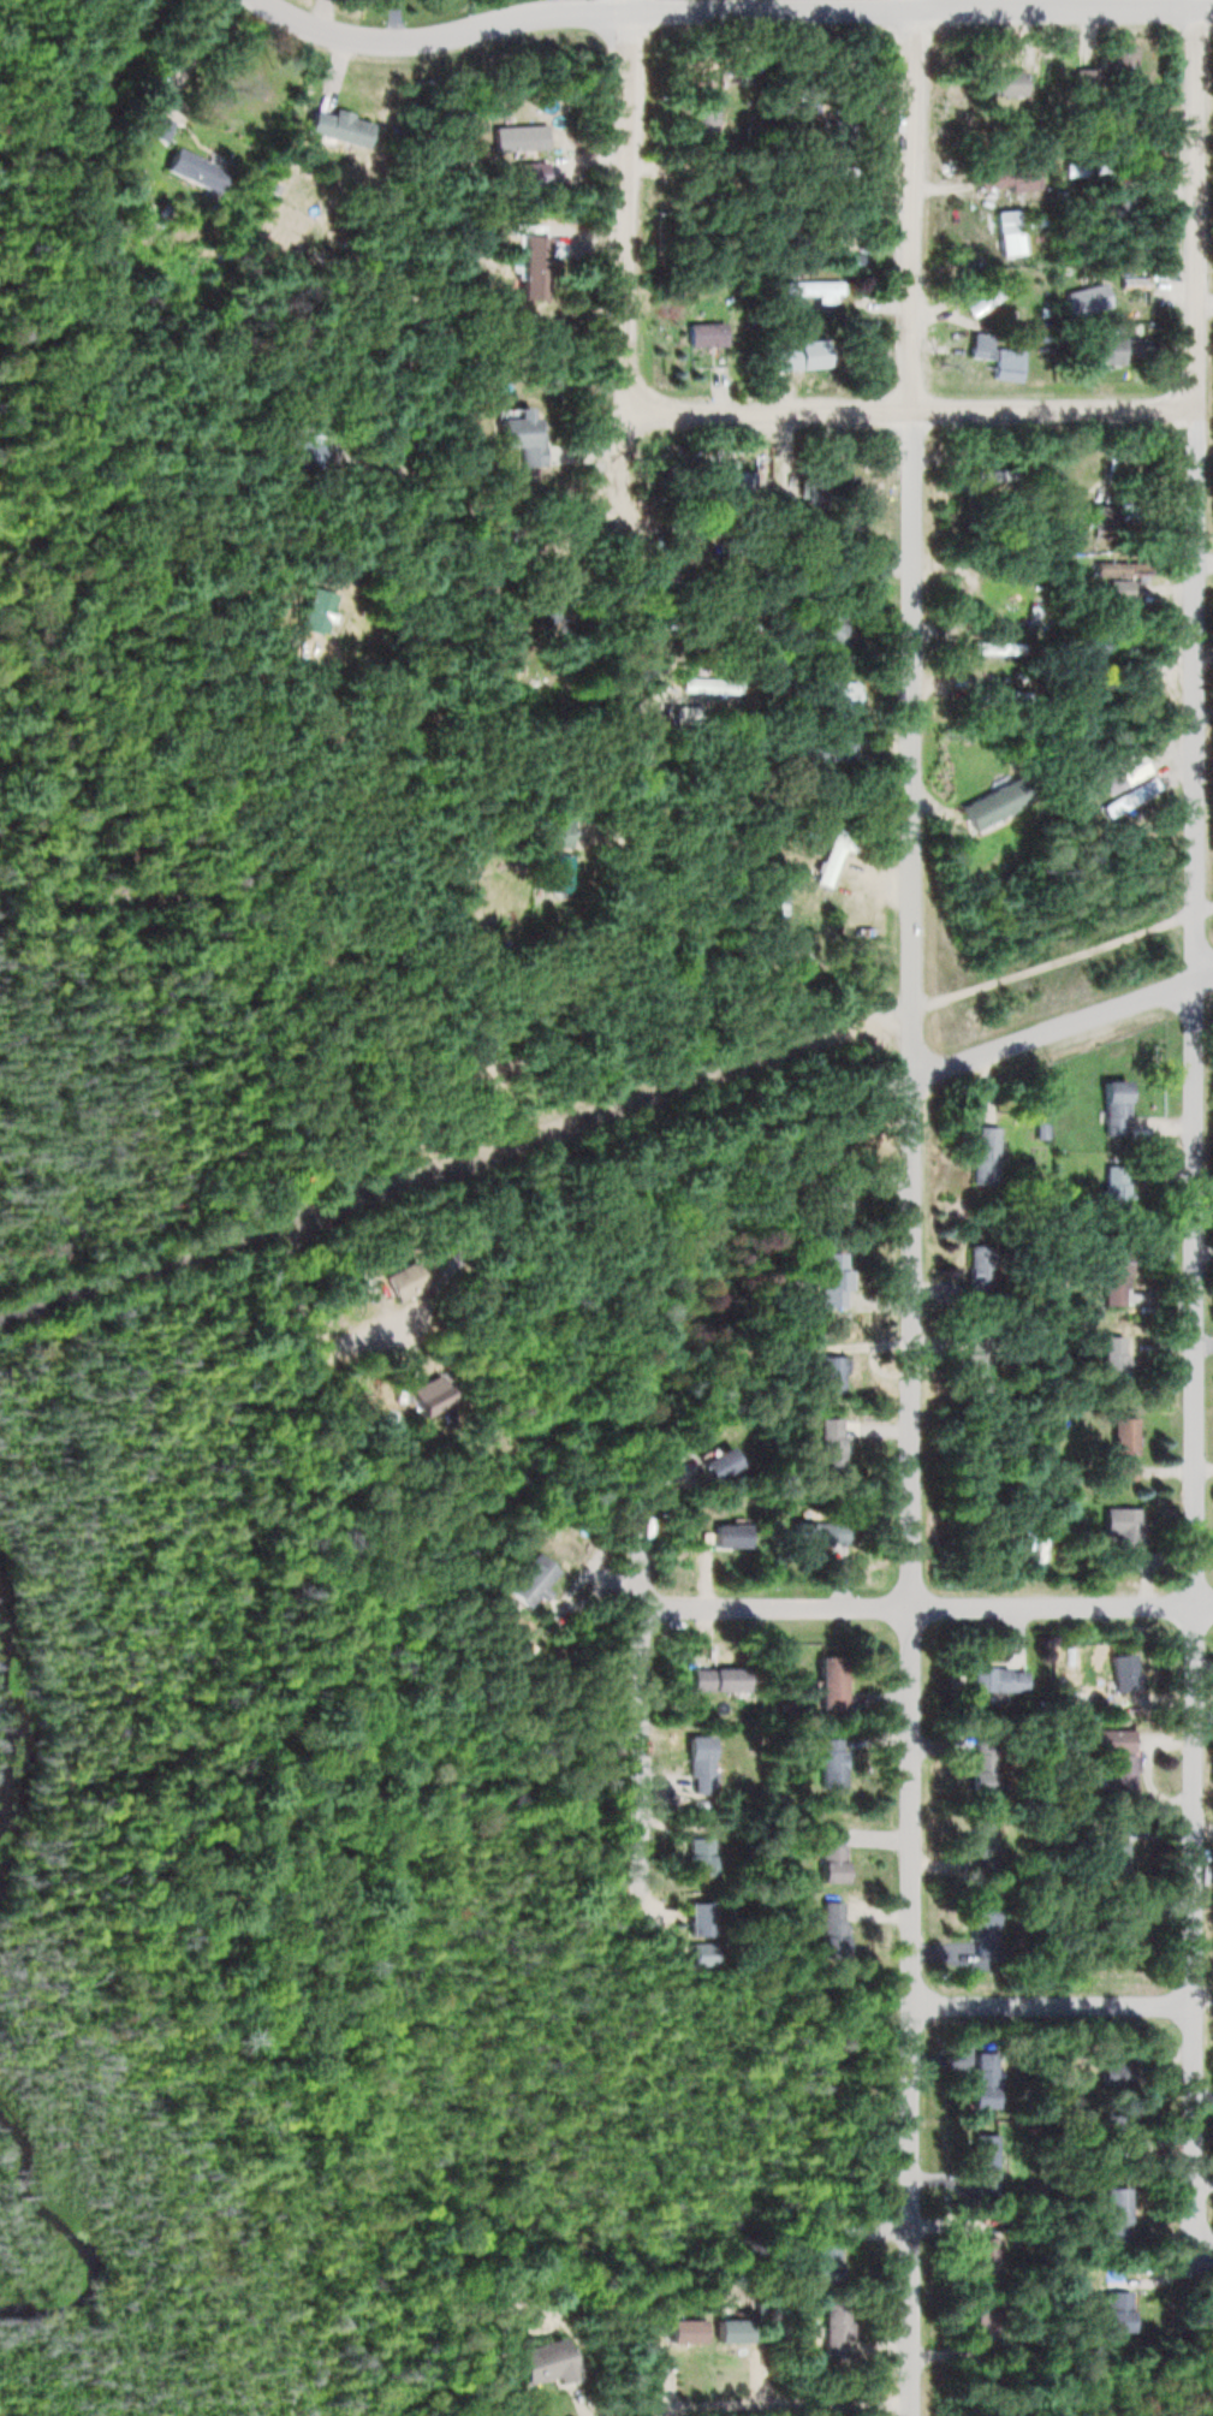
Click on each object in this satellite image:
road: (921, 10)
road: (441, 34)
building: (1119, 73)
building: (994, 82)
building: (702, 108)
building: (335, 127)
building: (154, 129)
building: (837, 129)
building: (516, 137)
building: (831, 170)
building: (191, 171)
building: (1086, 172)
building: (528, 173)
building: (1007, 178)
road: (1196, 202)
building: (1122, 203)
road: (911, 204)
building: (1011, 220)
building: (858, 257)
building: (531, 265)
building: (1132, 283)
building: (811, 290)
building: (989, 295)
building: (1084, 299)
building: (703, 334)
building: (979, 344)
building: (1111, 346)
building: (784, 363)
building: (1004, 364)
road: (912, 409)
road: (629, 422)
building: (523, 434)
building: (721, 479)
building: (997, 481)
building: (814, 498)
building: (1113, 517)
building: (1112, 568)
building: (560, 574)
building: (821, 574)
building: (712, 580)
building: (1118, 590)
building: (311, 611)
building: (549, 613)
road: (475, 615)
building: (830, 627)
building: (1092, 648)
building: (1134, 676)
building: (708, 685)
building: (840, 696)
building: (987, 699)
building: (833, 747)
building: (1116, 773)
building: (1128, 797)
building: (994, 803)
building: (552, 831)
building: (831, 856)
building: (553, 872)
road: (1063, 1026)
building: (1113, 1109)
road: (603, 1111)
building: (980, 1156)
building: (1113, 1193)
building: (834, 1197)
building: (977, 1266)
building: (1113, 1278)
building: (828, 1280)
building: (403, 1282)
road: (1196, 1326)
building: (1113, 1364)
building: (975, 1369)
building: (827, 1373)
building: (421, 1397)
road: (911, 1412)
building: (827, 1447)
building: (1122, 1448)
building: (714, 1465)
building: (816, 1535)
building: (1120, 1536)
building: (723, 1537)
building: (527, 1581)
road: (927, 1607)
building: (1119, 1672)
building: (715, 1679)
building: (995, 1679)
building: (830, 1687)
road: (640, 1699)
building: (1108, 1740)
building: (828, 1763)
building: (695, 1764)
building: (982, 1764)
building: (1117, 1771)
building: (981, 1847)
building: (1113, 1848)
building: (827, 1854)
building: (696, 1857)
building: (696, 1918)
building: (830, 1929)
building: (979, 1930)
building: (1114, 1940)
road: (1052, 2004)
building: (1116, 2073)
building: (980, 2088)
building: (1117, 2126)
building: (981, 2162)
building: (1116, 2214)
building: (979, 2255)
building: (826, 2262)
building: (1119, 2305)
building: (980, 2322)
building: (831, 2329)
building: (683, 2331)
building: (729, 2331)
building: (540, 2362)
road: (784, 2405)

